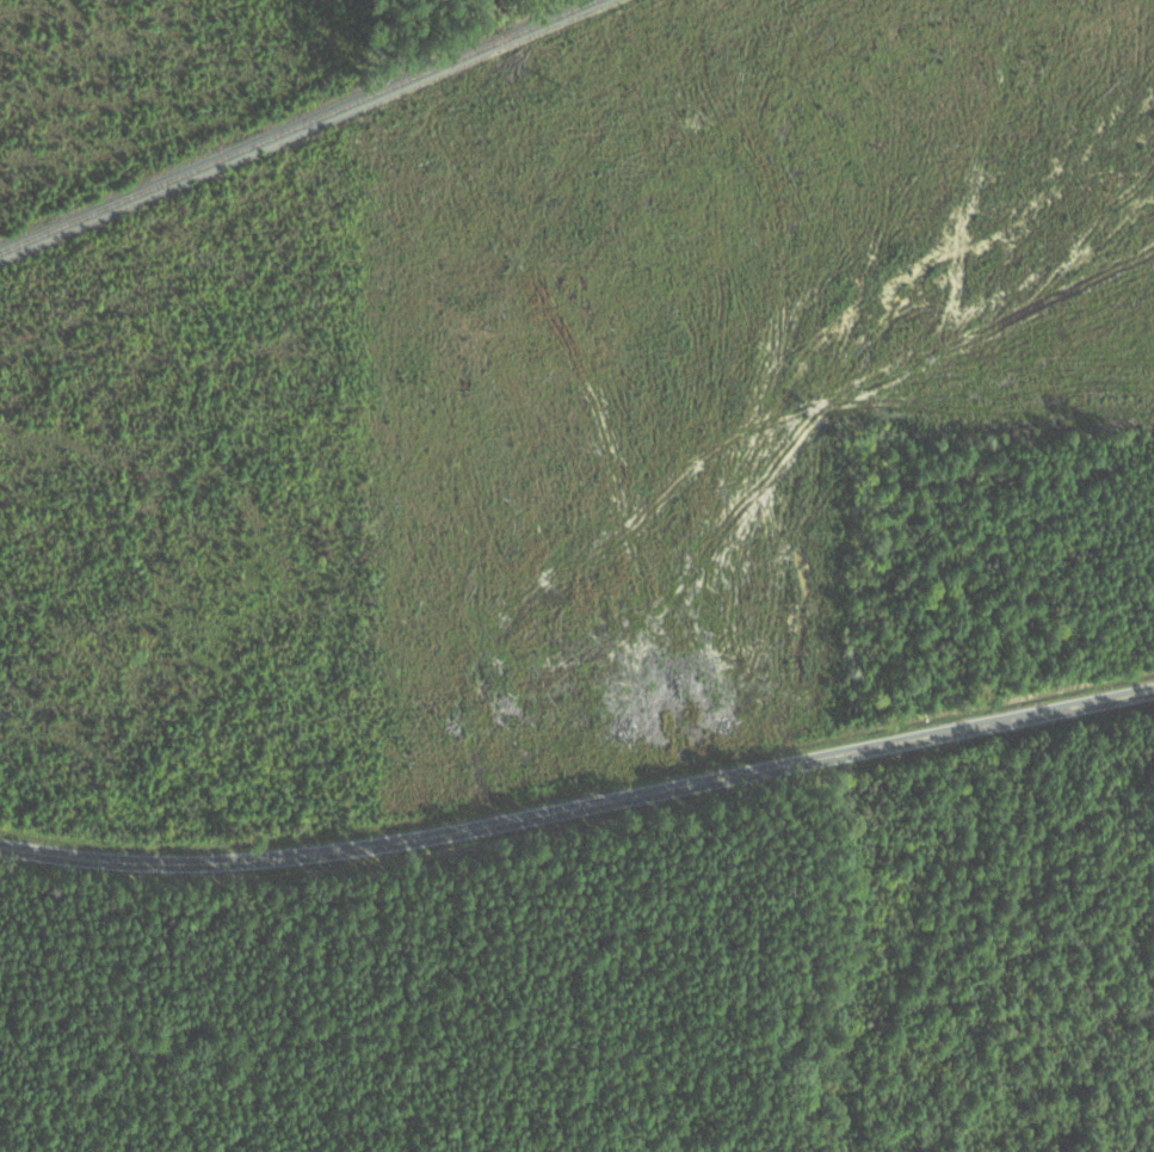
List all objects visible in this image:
railway: (309, 131)
road: (579, 811)

